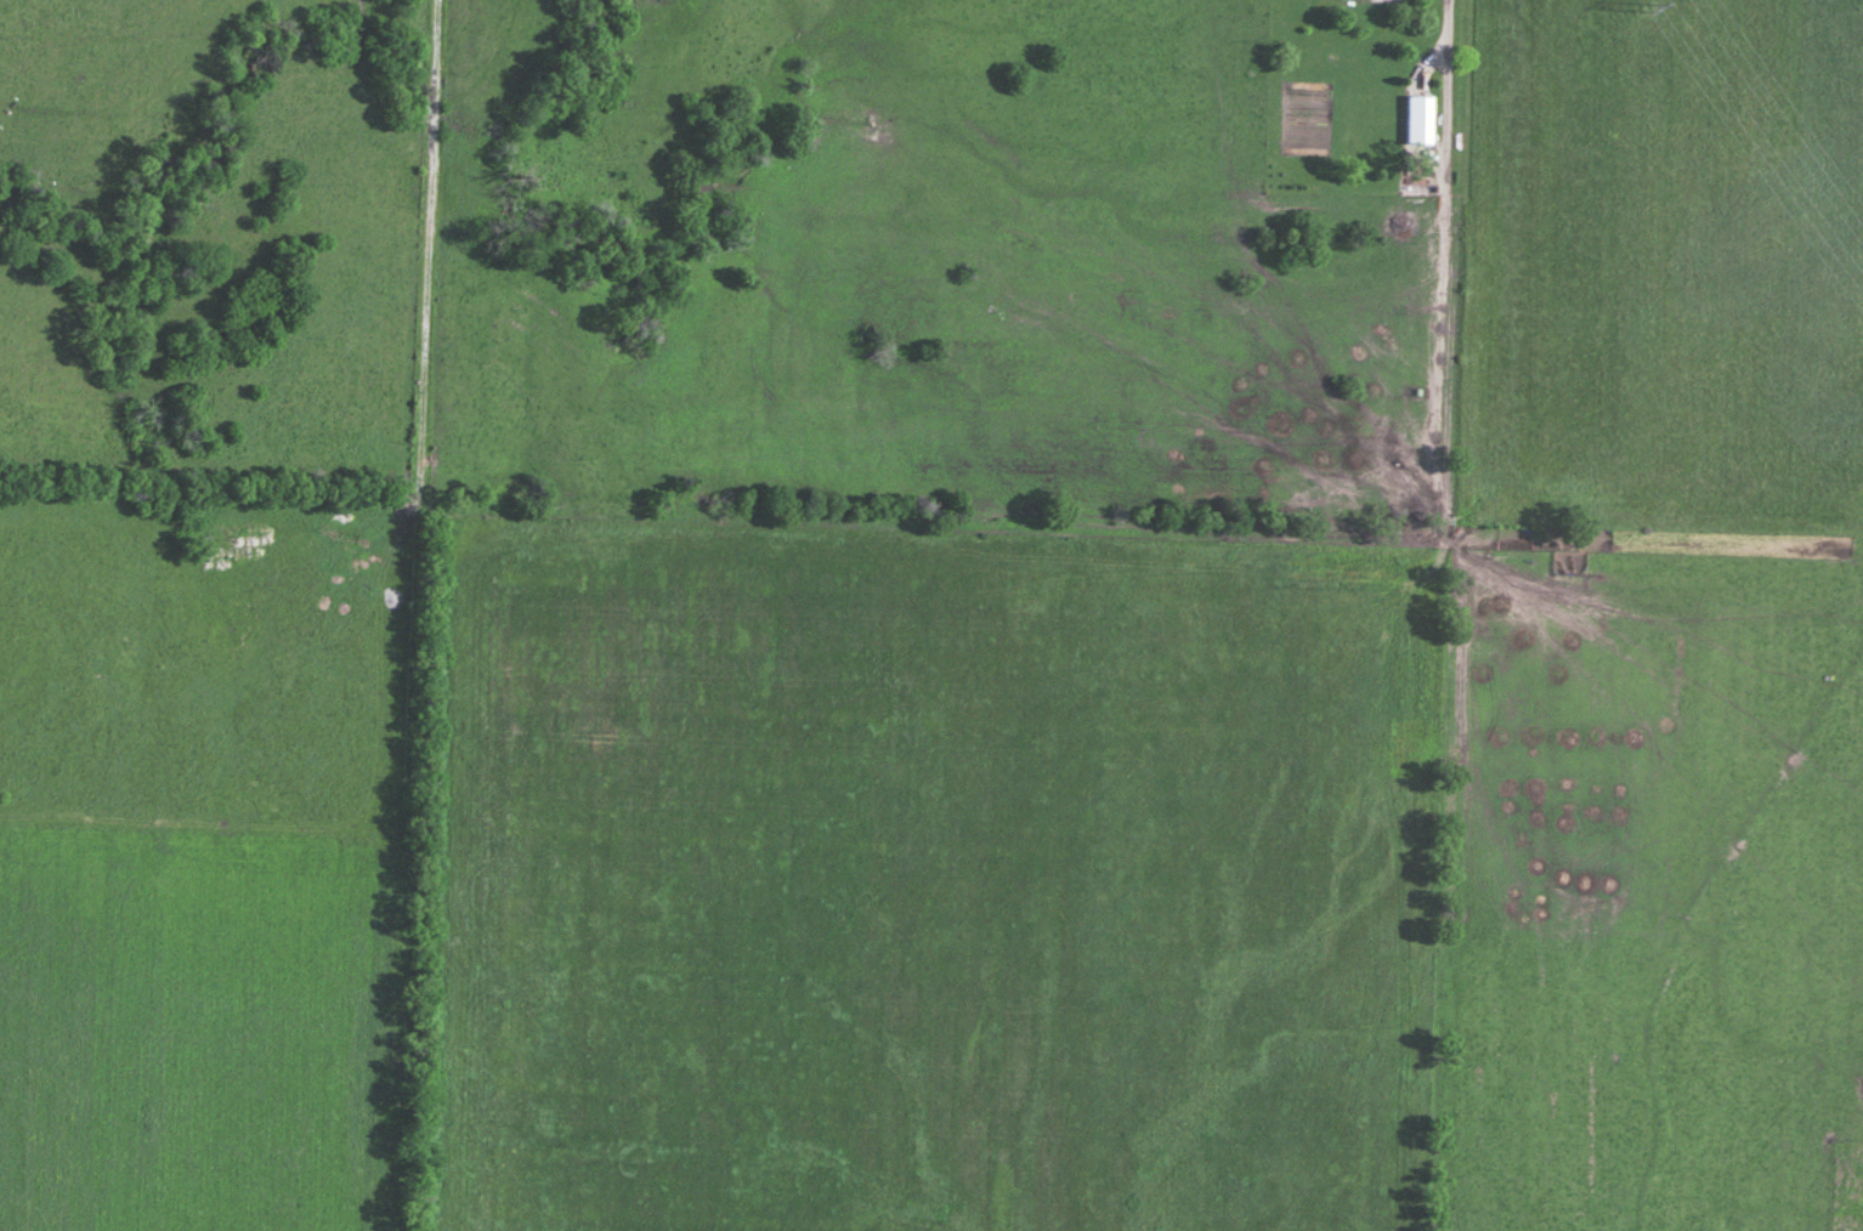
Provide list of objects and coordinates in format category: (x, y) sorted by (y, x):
power tower: (1637, 4)
building: (1419, 120)

